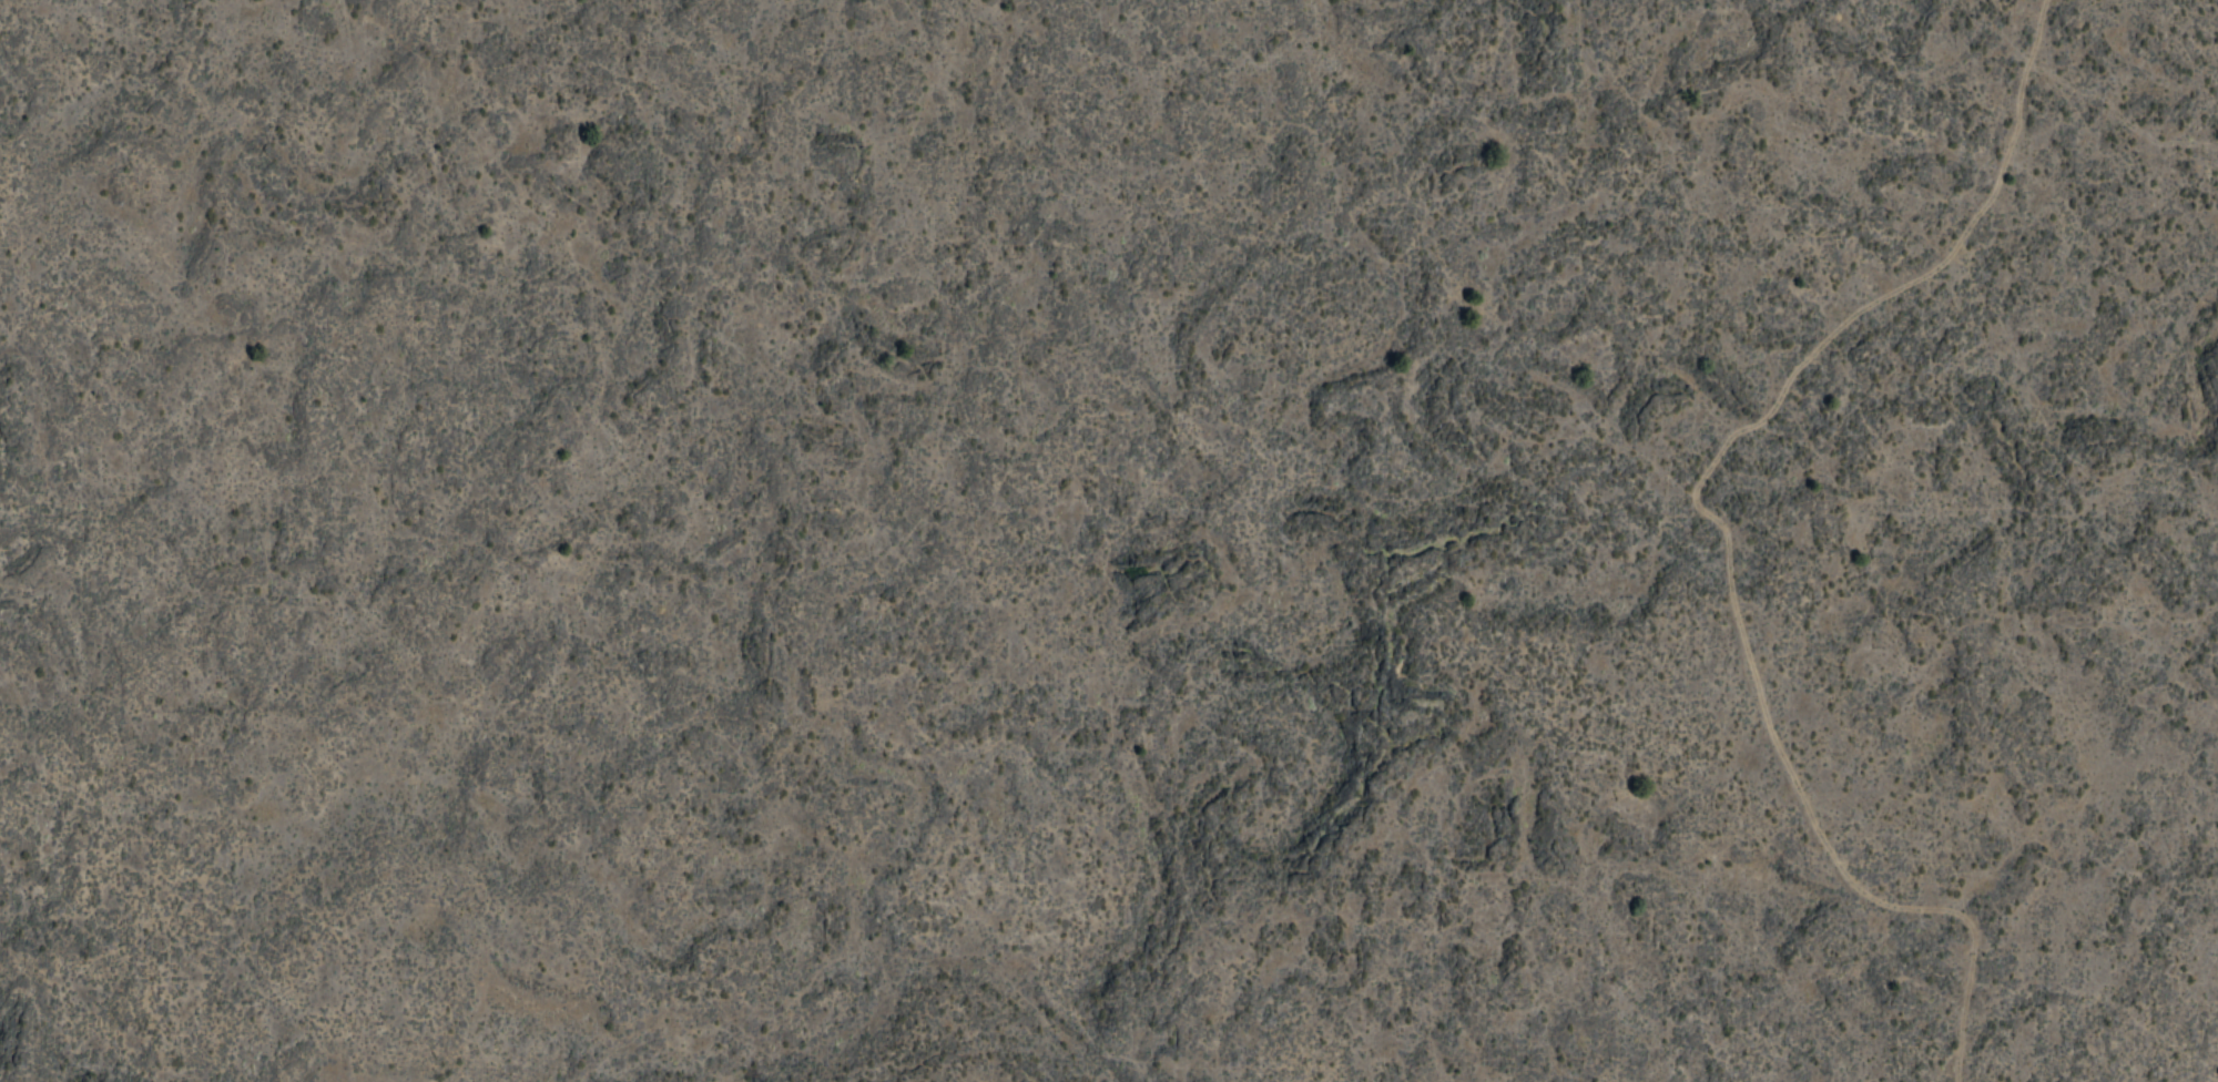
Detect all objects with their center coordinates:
road: (1721, 525)

